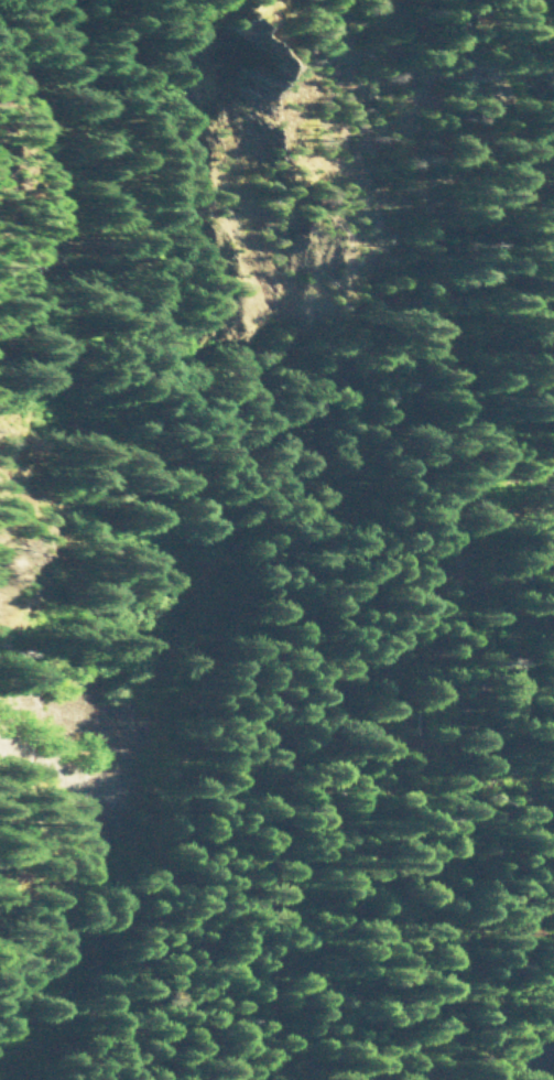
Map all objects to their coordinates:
road: (520, 978)
river: (548, 1065)

